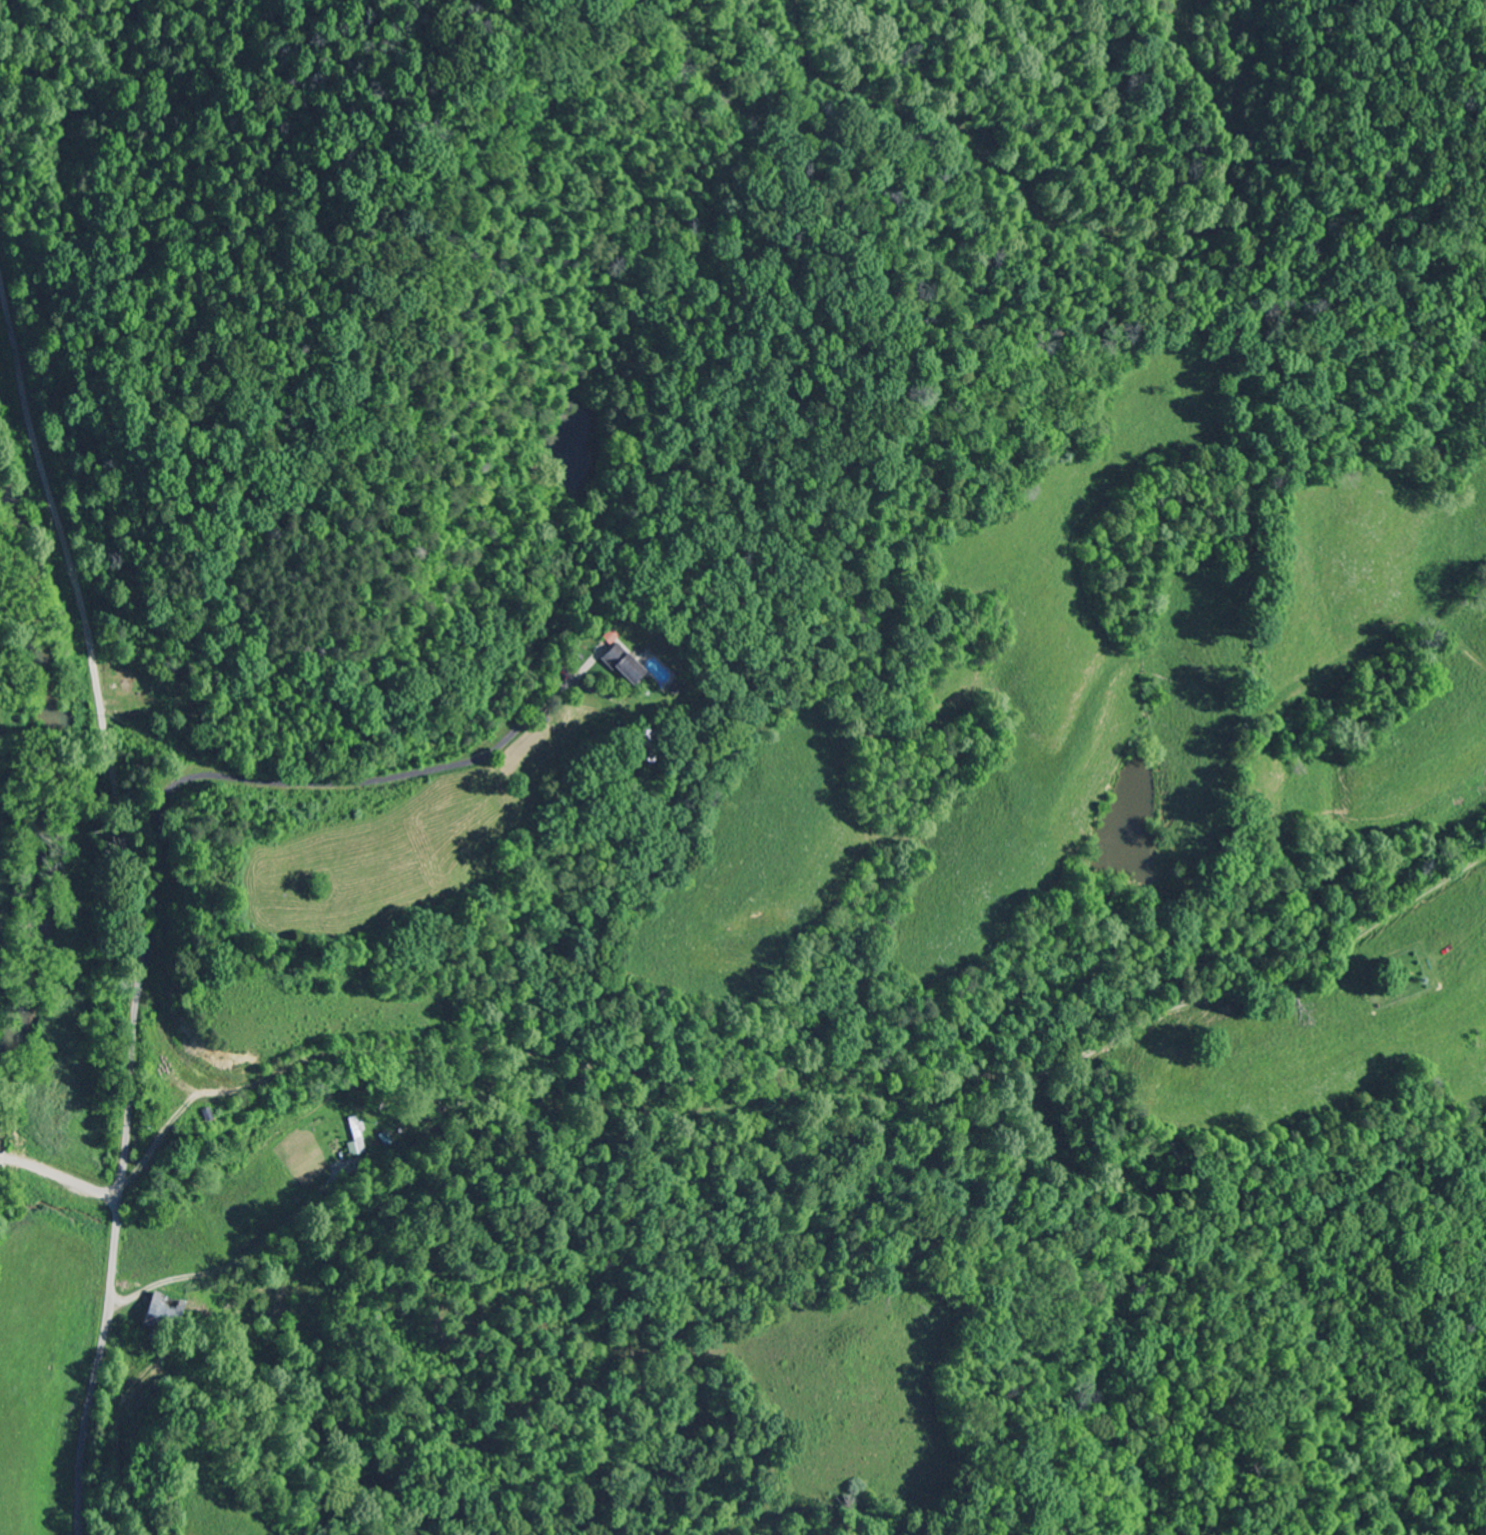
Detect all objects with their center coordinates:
building: (622, 665)
road: (281, 781)
river: (49, 790)
road: (134, 904)
road: (57, 1185)

